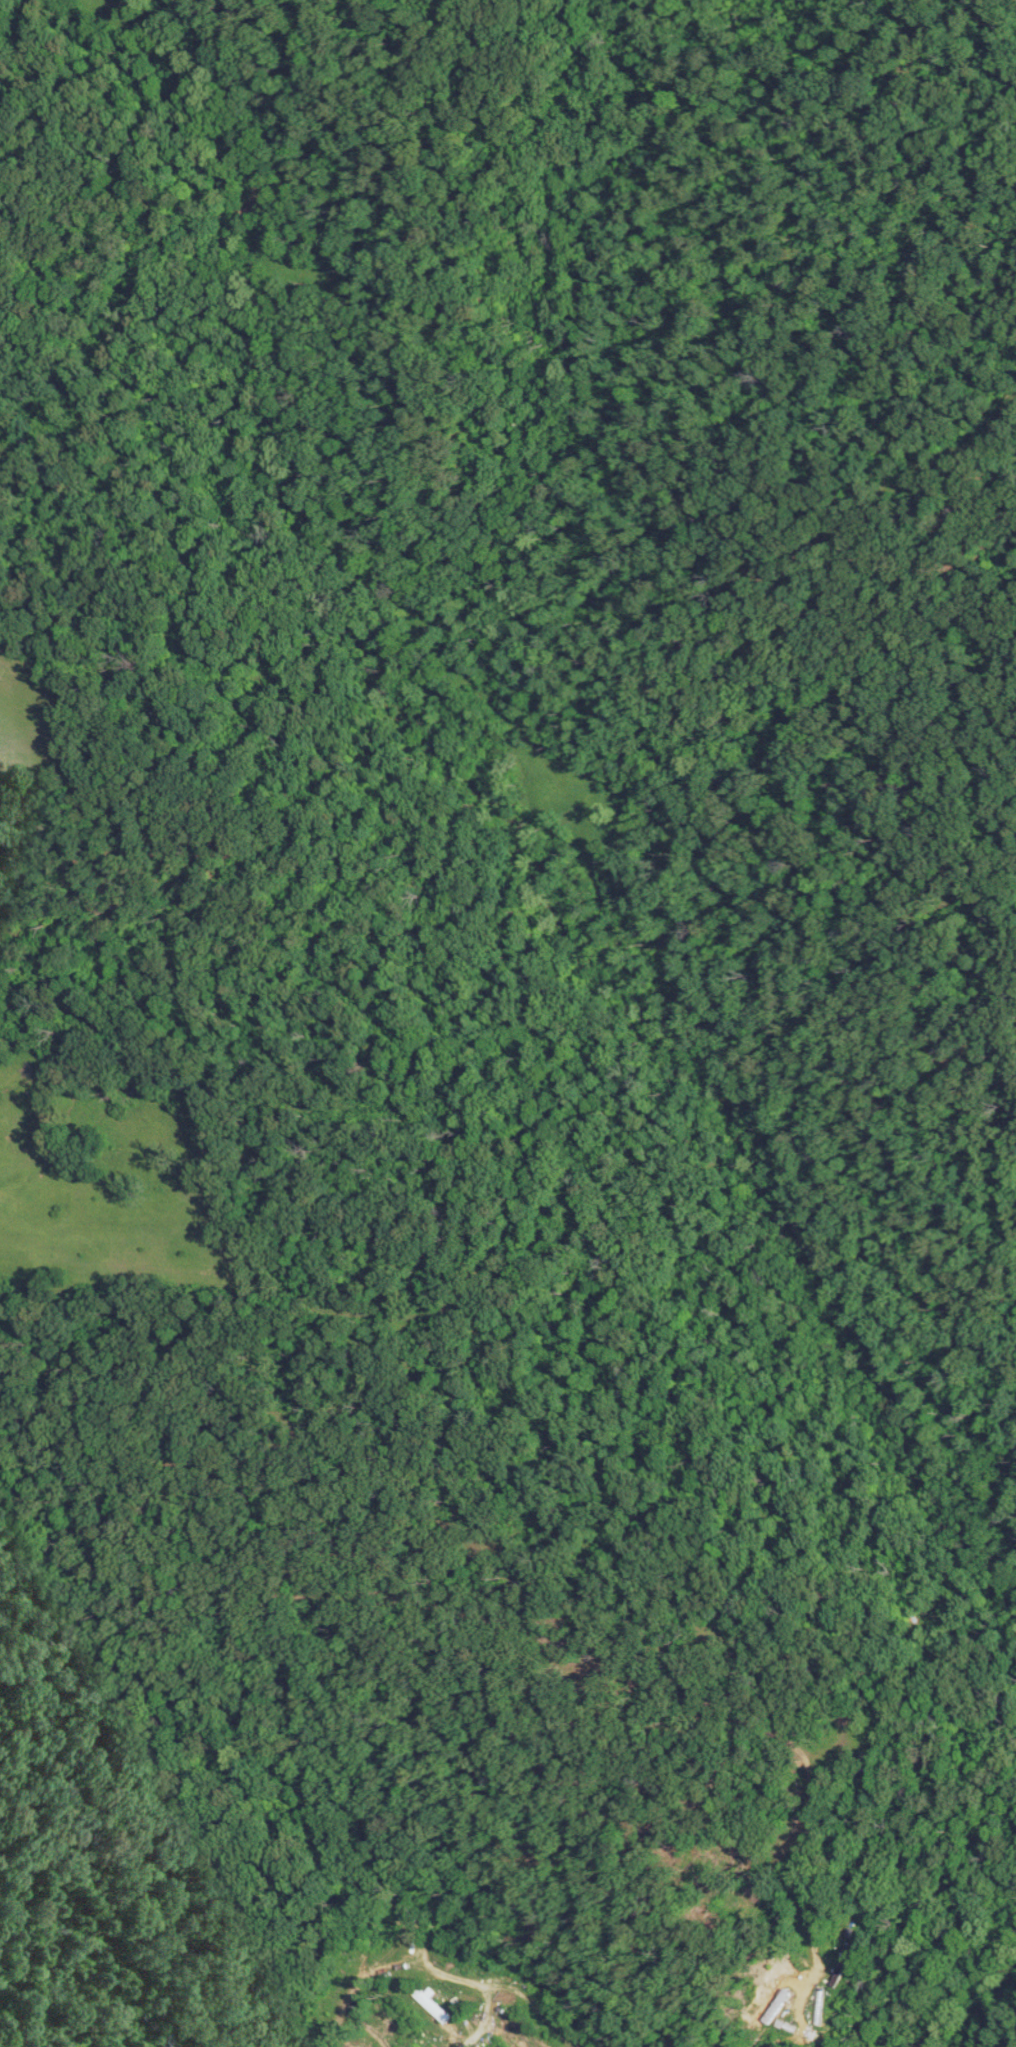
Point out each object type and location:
building: (437, 2005)
road: (471, 2041)

